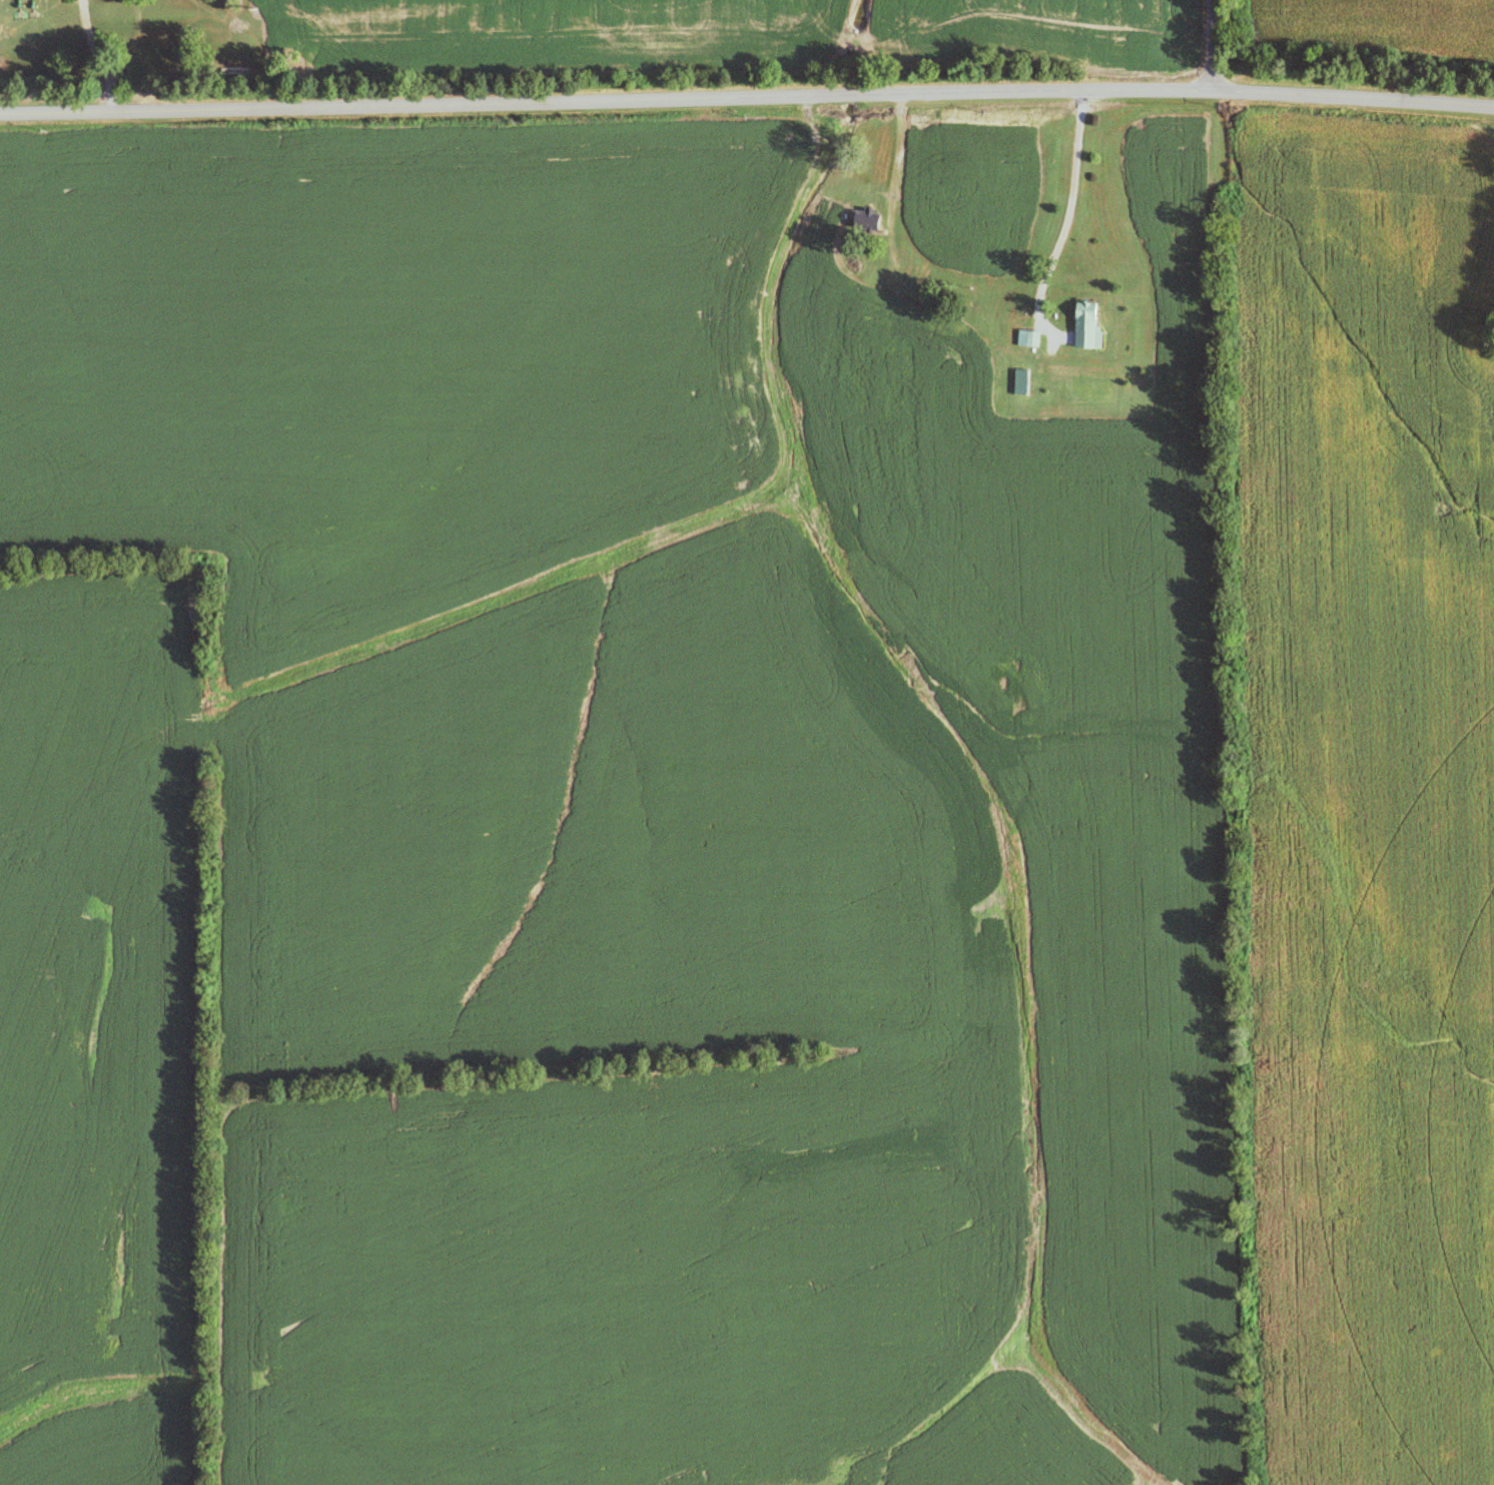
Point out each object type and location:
road: (1214, 44)
road: (747, 95)
building: (871, 220)
building: (1091, 326)
building: (1031, 339)
building: (1024, 383)

